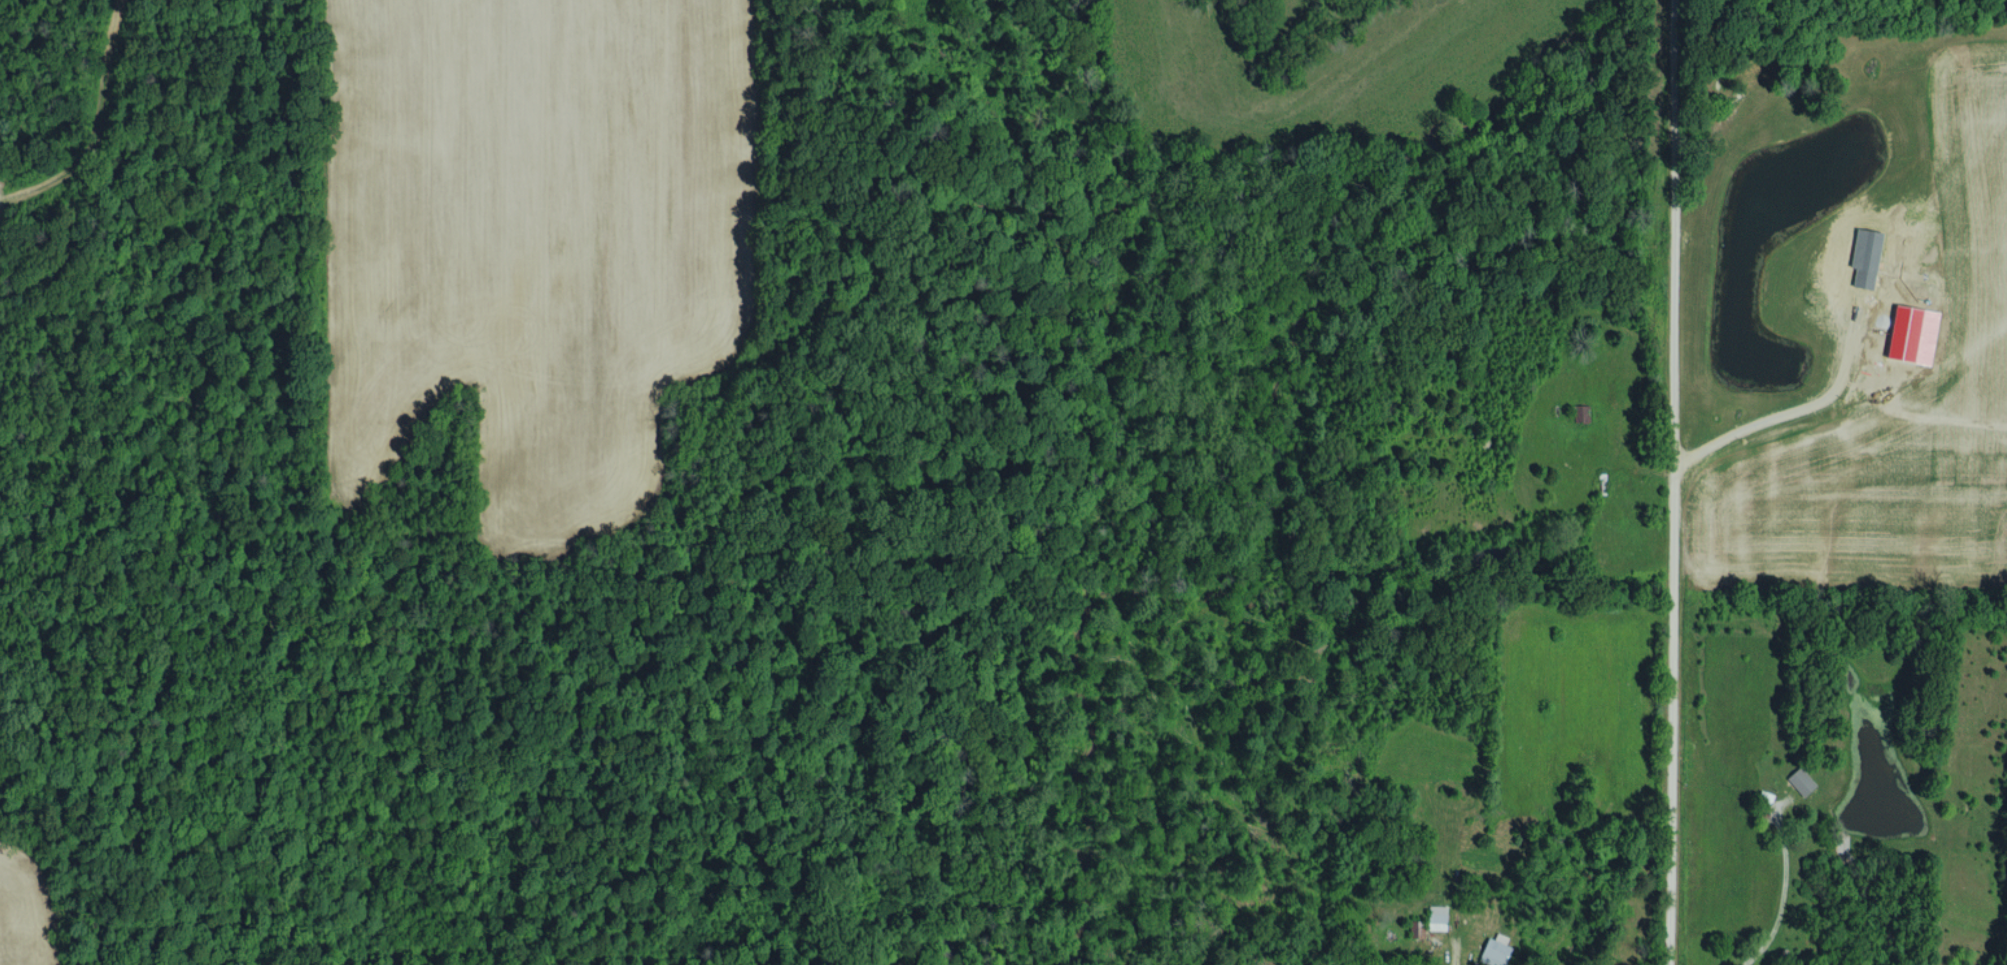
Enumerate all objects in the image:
road: (1678, 482)
building: (1798, 779)

